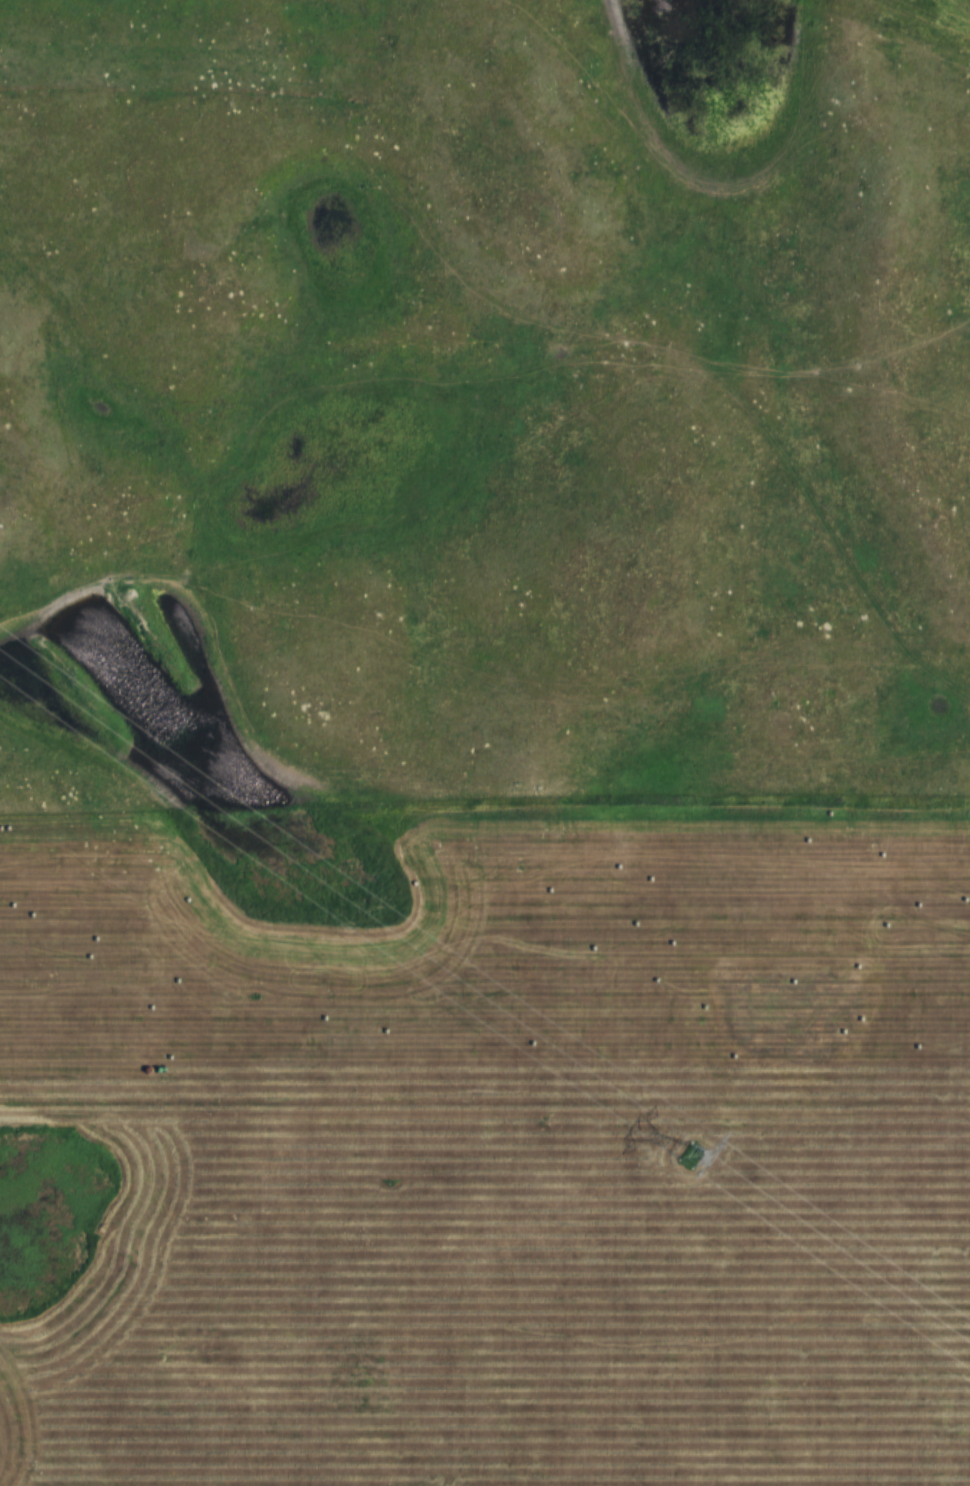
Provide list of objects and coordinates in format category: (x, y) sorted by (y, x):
power tower: (690, 1155)

